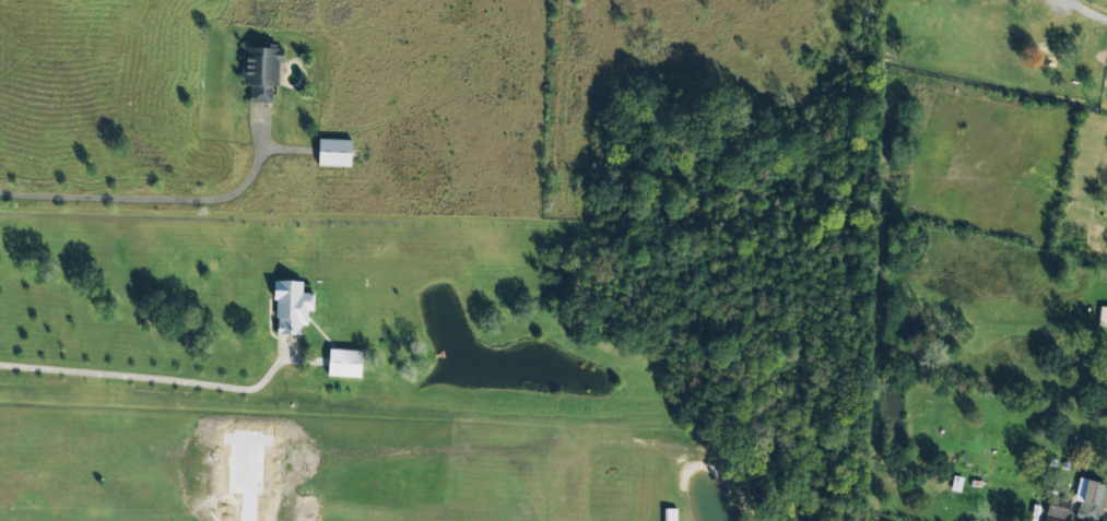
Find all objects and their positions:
building: (260, 71)
building: (333, 152)
building: (291, 307)
building: (1103, 316)
building: (344, 363)
building: (956, 484)
building: (1090, 499)

